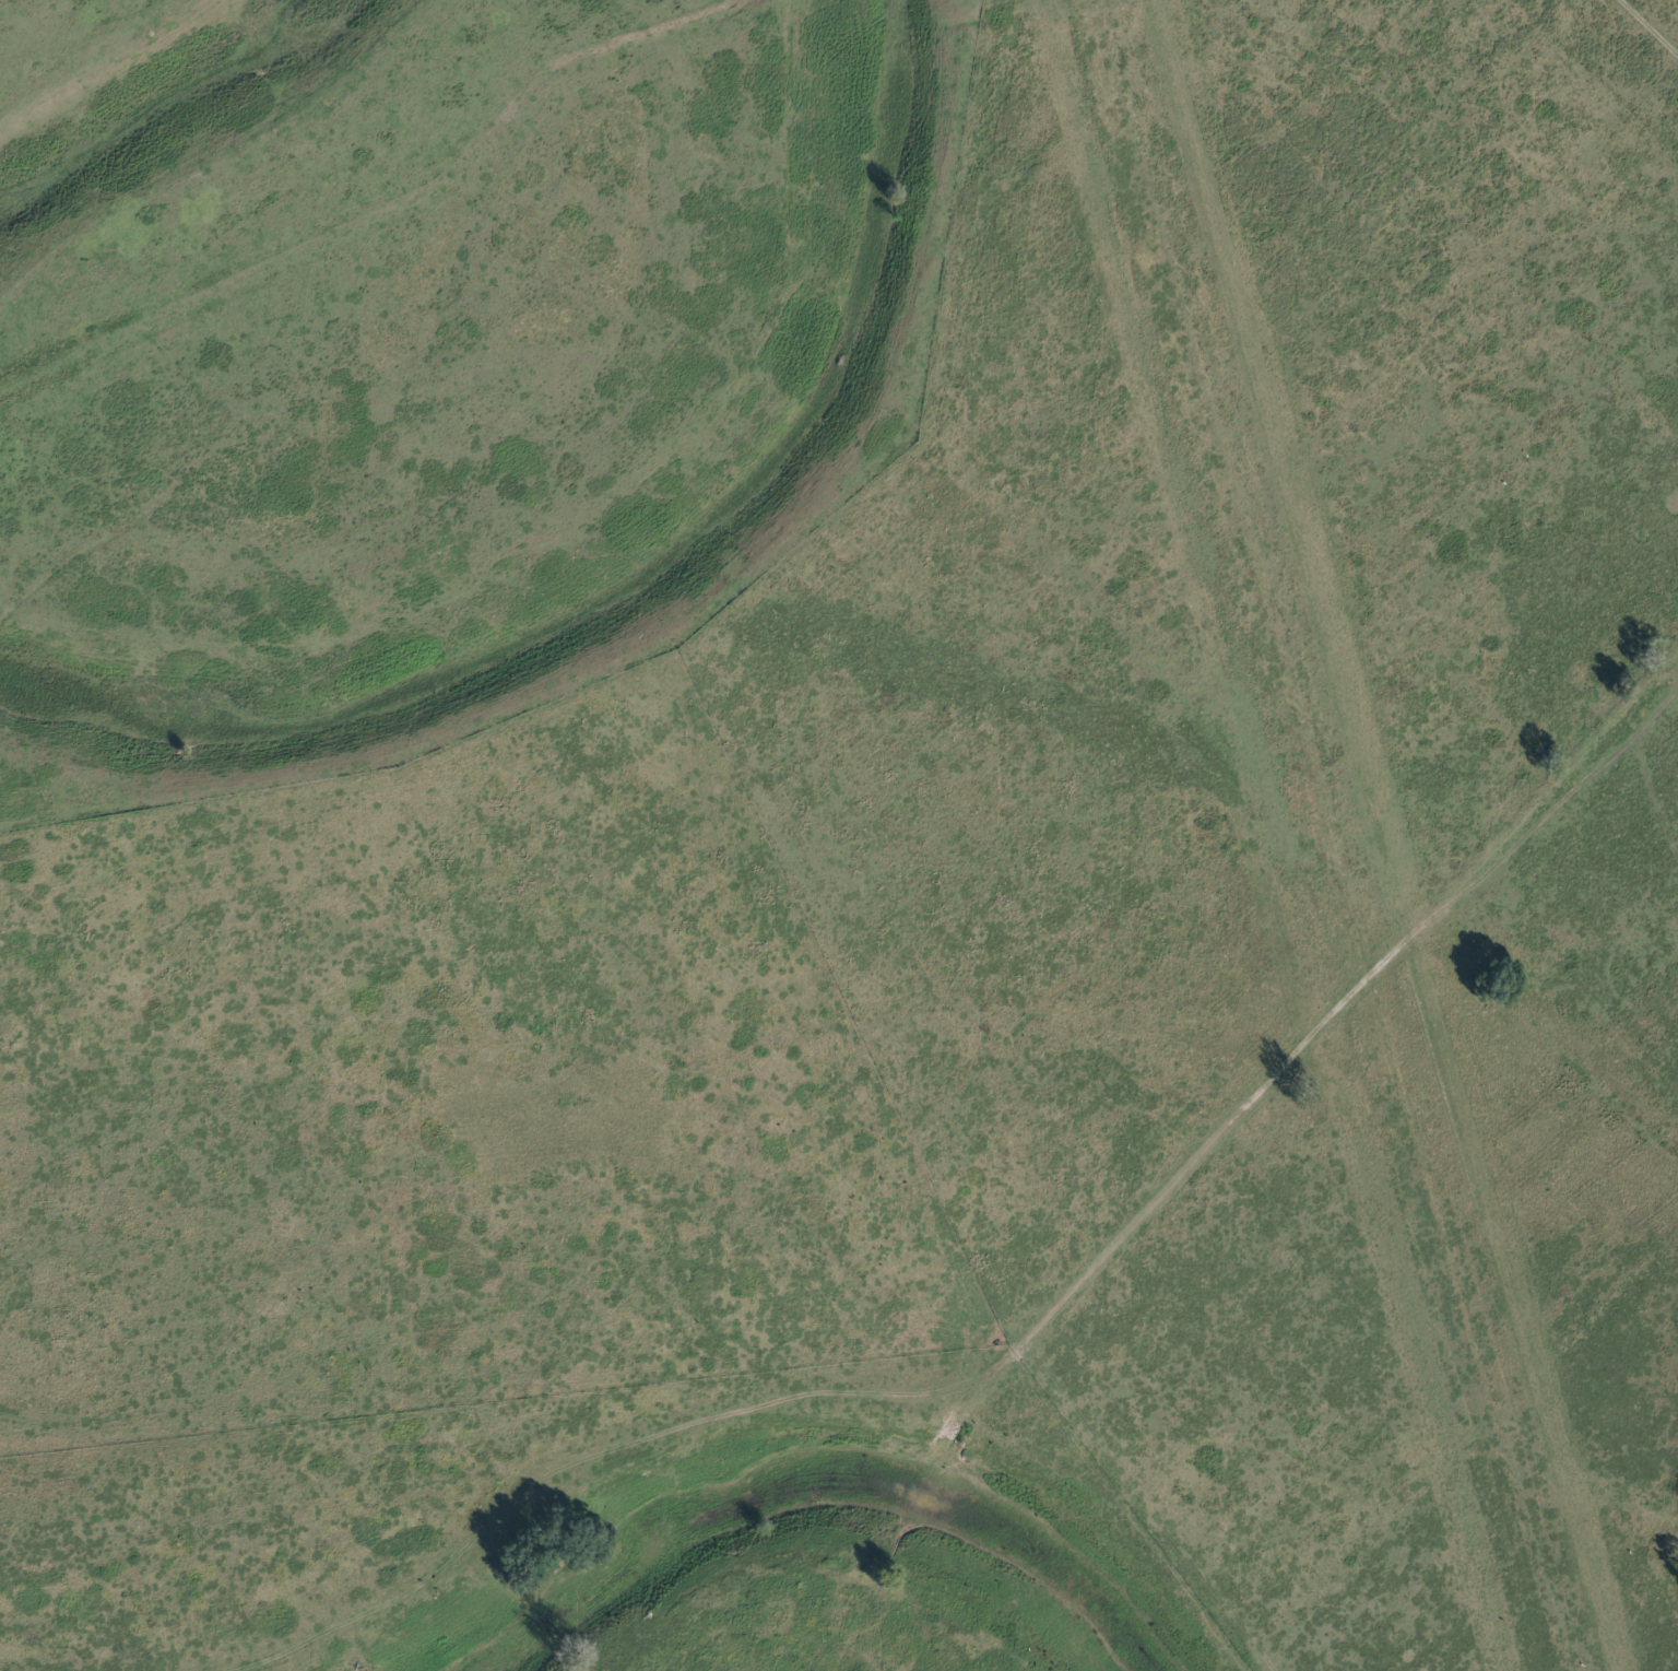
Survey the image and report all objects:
road: (1044, 1313)

